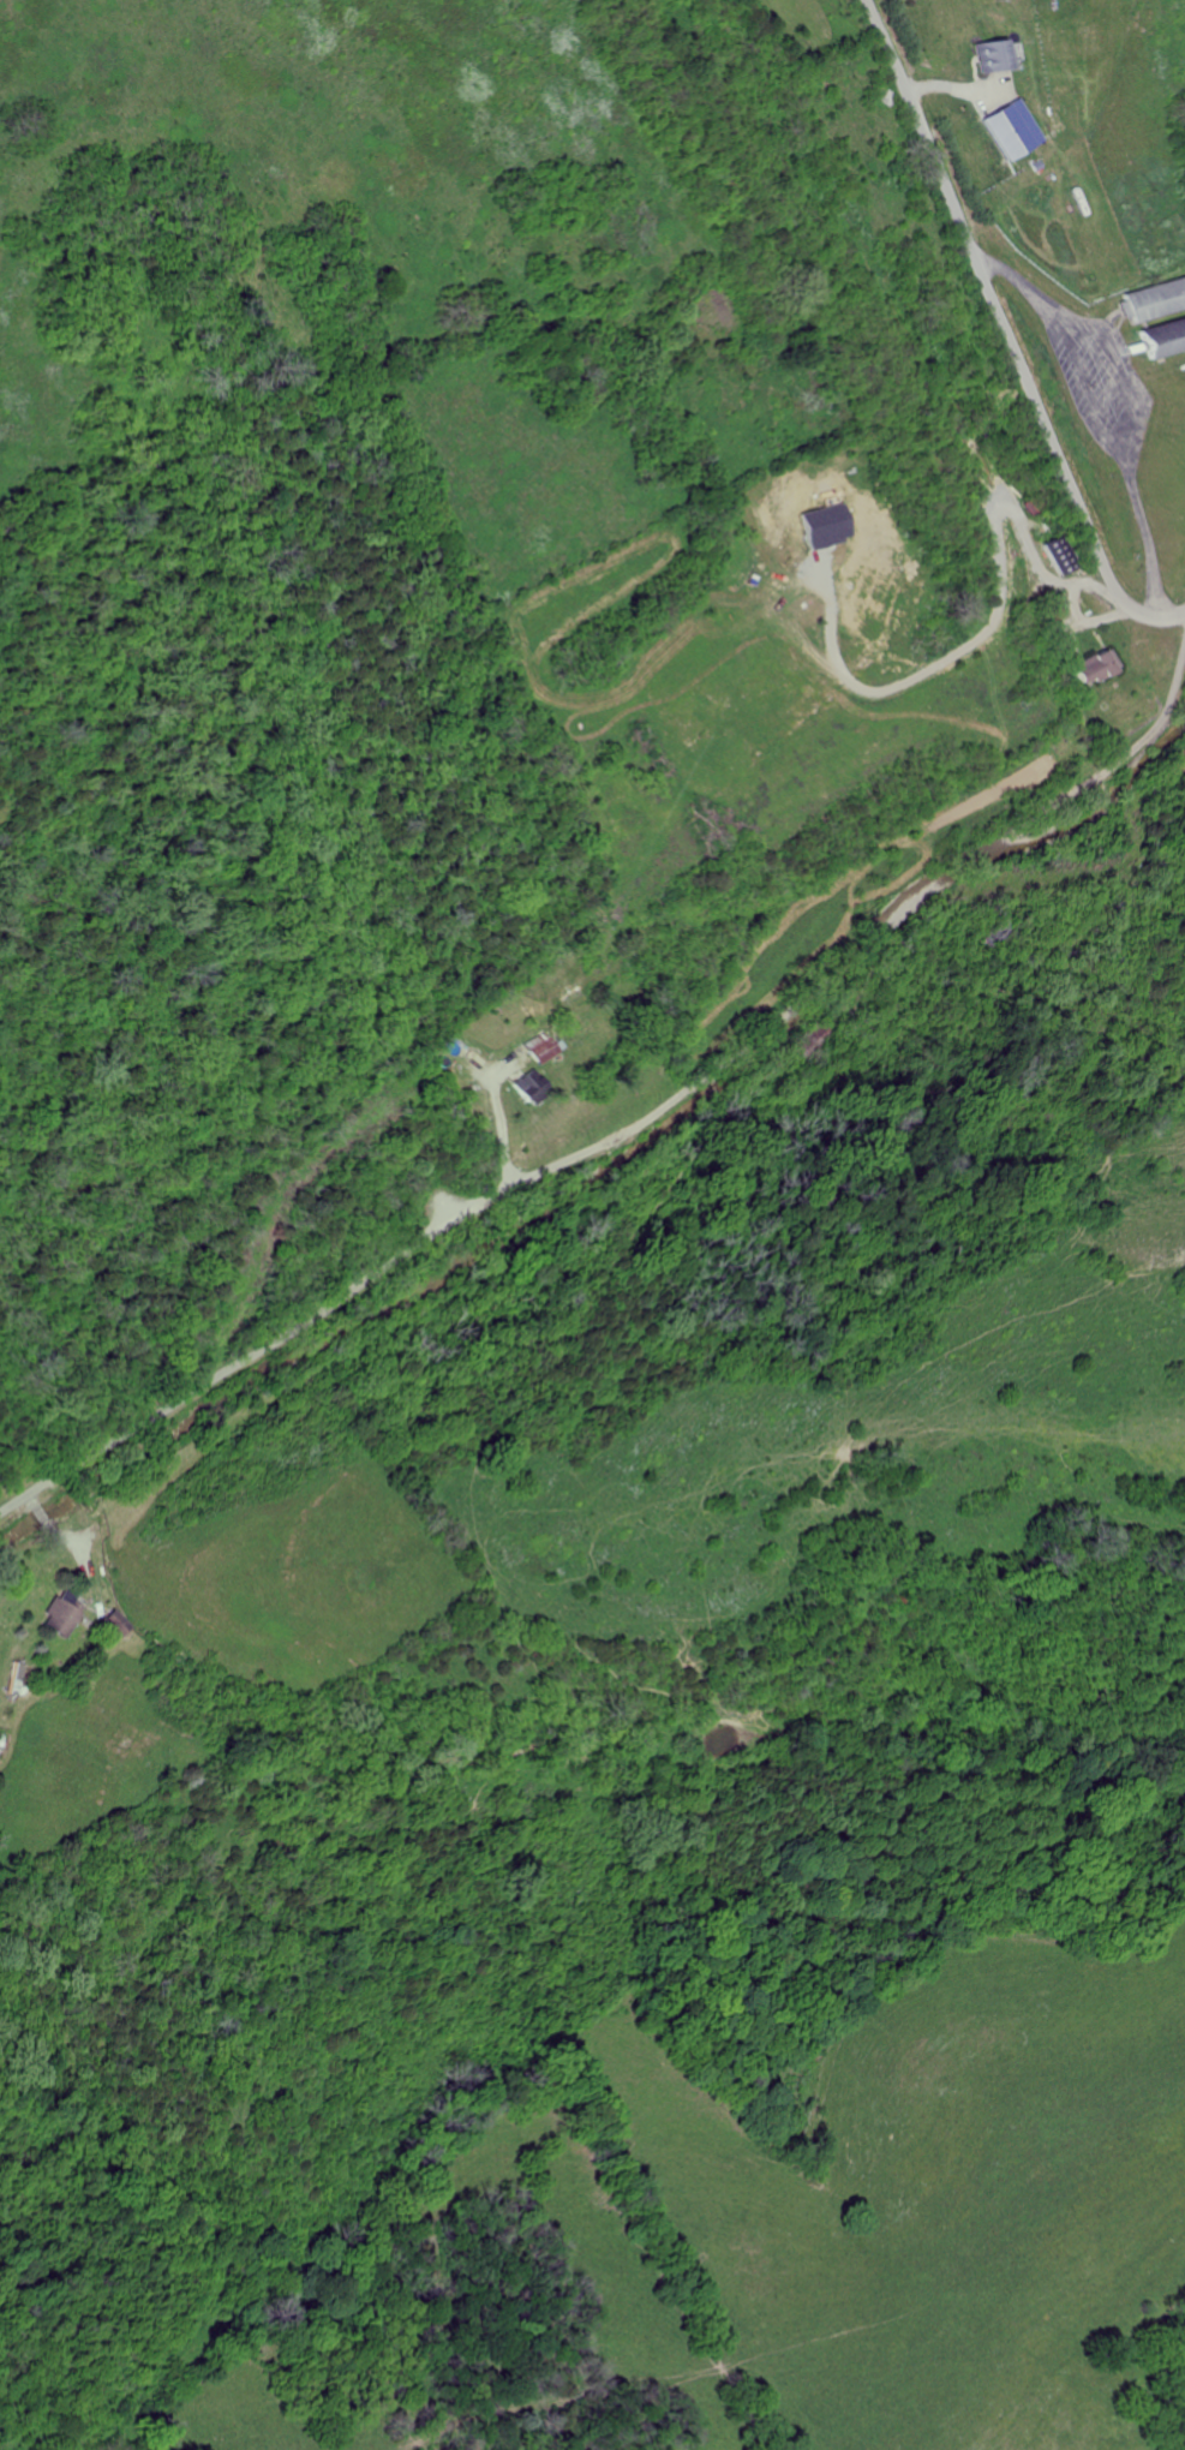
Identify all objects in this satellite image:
building: (992, 55)
building: (1009, 130)
building: (1155, 298)
road: (1007, 333)
building: (1162, 336)
road: (1100, 419)
road: (1071, 609)
road: (970, 643)
building: (1095, 667)
building: (539, 1048)
building: (525, 1087)
road: (640, 1125)
road: (498, 1127)
building: (62, 1618)
building: (22, 1677)

